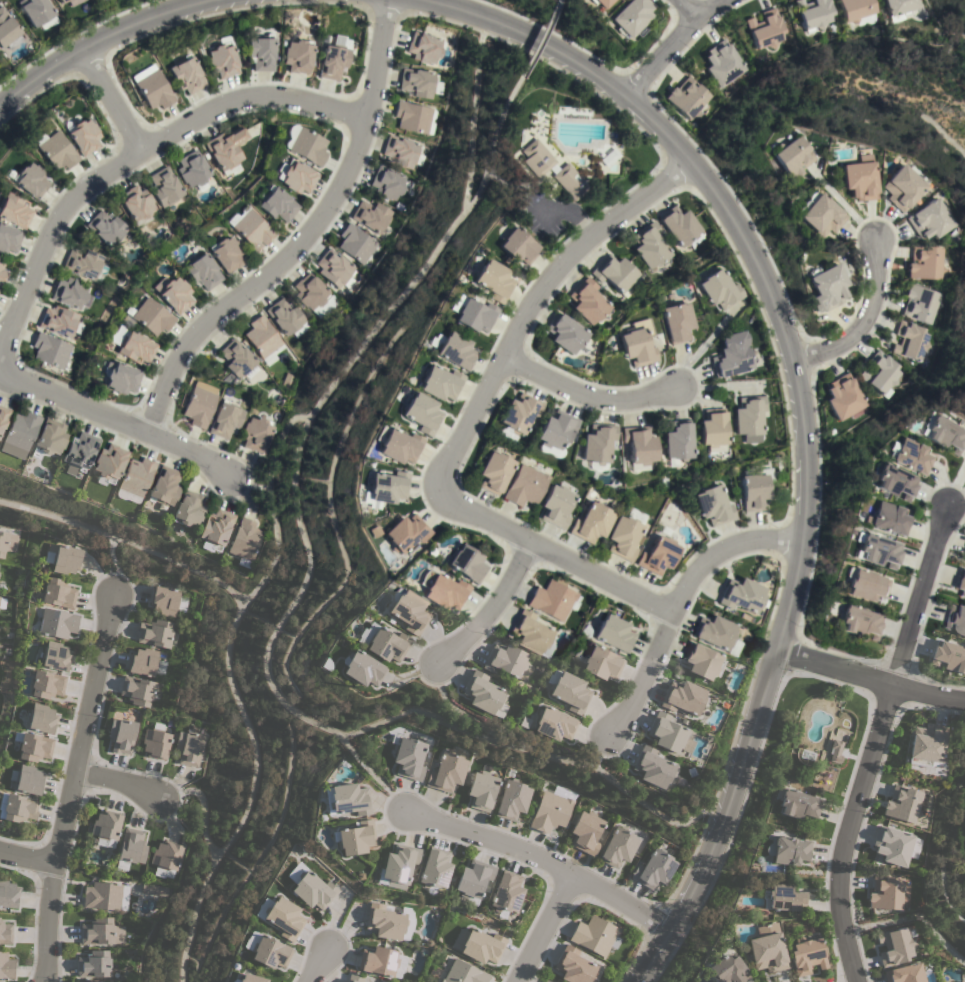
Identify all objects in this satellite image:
road: (557, 0)
building: (60, 1)
building: (599, 2)
building: (899, 8)
road: (686, 9)
building: (854, 9)
building: (34, 11)
building: (813, 14)
building: (631, 17)
building: (6, 28)
building: (764, 30)
road: (540, 35)
road: (96, 40)
road: (675, 40)
building: (423, 48)
building: (260, 52)
building: (297, 56)
building: (221, 60)
building: (332, 62)
building: (721, 63)
building: (185, 74)
building: (419, 83)
building: (151, 88)
road: (108, 98)
building: (686, 98)
building: (413, 117)
building: (83, 137)
building: (307, 146)
building: (54, 150)
building: (226, 150)
road: (132, 151)
building: (401, 151)
building: (790, 157)
building: (192, 169)
building: (552, 169)
building: (296, 177)
building: (859, 178)
building: (30, 180)
building: (386, 183)
building: (164, 187)
building: (903, 187)
road: (463, 195)
building: (275, 204)
building: (136, 205)
road: (846, 209)
building: (14, 211)
building: (371, 216)
building: (819, 216)
building: (930, 220)
building: (678, 225)
building: (105, 228)
building: (251, 229)
road: (303, 237)
building: (8, 239)
building: (356, 244)
building: (518, 246)
building: (649, 246)
building: (226, 254)
building: (82, 263)
building: (925, 263)
building: (333, 268)
building: (1, 271)
building: (202, 271)
building: (615, 274)
building: (493, 281)
building: (826, 288)
building: (718, 289)
building: (69, 292)
building: (173, 294)
building: (314, 295)
building: (587, 301)
building: (920, 304)
building: (471, 314)
road: (386, 316)
building: (151, 317)
building: (286, 318)
building: (58, 321)
building: (676, 322)
road: (861, 324)
building: (565, 333)
building: (261, 337)
building: (911, 341)
building: (637, 343)
building: (135, 347)
building: (50, 350)
building: (454, 351)
building: (731, 355)
building: (237, 362)
building: (881, 373)
building: (121, 379)
building: (439, 383)
building: (843, 396)
road: (595, 397)
building: (199, 404)
building: (420, 413)
building: (519, 413)
road: (805, 415)
building: (749, 416)
building: (3, 417)
road: (116, 419)
building: (225, 419)
road: (473, 420)
building: (713, 428)
building: (557, 430)
building: (20, 433)
building: (255, 434)
building: (507, 434)
building: (946, 434)
building: (49, 438)
building: (678, 440)
building: (598, 443)
building: (397, 445)
building: (639, 445)
building: (80, 451)
building: (909, 455)
building: (109, 462)
building: (494, 472)
building: (136, 476)
building: (893, 481)
road: (251, 483)
building: (163, 486)
building: (525, 486)
building: (385, 489)
building: (752, 491)
road: (270, 504)
building: (556, 505)
building: (712, 506)
building: (188, 509)
building: (888, 519)
building: (591, 523)
building: (216, 528)
building: (406, 533)
building: (623, 538)
building: (245, 539)
road: (125, 542)
building: (7, 543)
building: (876, 550)
building: (658, 555)
building: (63, 558)
building: (964, 558)
building: (466, 563)
road: (114, 564)
building: (961, 582)
building: (866, 585)
building: (442, 590)
building: (57, 592)
building: (741, 595)
building: (164, 600)
building: (551, 600)
building: (180, 604)
road: (674, 604)
road: (488, 609)
building: (409, 612)
building: (955, 619)
building: (56, 622)
building: (860, 622)
building: (714, 632)
building: (155, 633)
building: (532, 634)
building: (613, 634)
building: (384, 642)
building: (949, 655)
building: (55, 656)
building: (505, 659)
building: (143, 661)
building: (701, 661)
building: (601, 663)
building: (363, 668)
road: (868, 680)
building: (46, 684)
building: (137, 690)
building: (570, 692)
building: (484, 694)
building: (683, 697)
road: (457, 710)
building: (41, 719)
building: (554, 723)
road: (362, 728)
building: (666, 732)
building: (121, 735)
building: (155, 741)
road: (873, 742)
building: (926, 743)
building: (34, 746)
building: (188, 747)
building: (835, 751)
road: (599, 753)
building: (409, 757)
building: (652, 767)
building: (447, 772)
road: (373, 776)
building: (28, 780)
road: (119, 785)
road: (70, 786)
building: (481, 790)
road: (250, 795)
building: (349, 799)
building: (512, 799)
building: (903, 803)
building: (798, 804)
building: (17, 807)
road: (200, 809)
building: (550, 811)
building: (106, 826)
building: (964, 828)
building: (586, 831)
building: (356, 837)
building: (892, 844)
building: (132, 846)
building: (618, 847)
building: (788, 850)
road: (25, 858)
building: (165, 858)
road: (545, 860)
building: (399, 865)
building: (434, 868)
building: (654, 868)
building: (473, 878)
building: (154, 889)
building: (313, 889)
building: (506, 892)
building: (886, 892)
building: (8, 894)
building: (105, 896)
building: (783, 897)
building: (284, 917)
road: (913, 917)
building: (389, 921)
road: (542, 927)
building: (101, 931)
building: (5, 932)
building: (595, 935)
building: (478, 944)
building: (894, 946)
building: (270, 952)
building: (767, 952)
building: (807, 955)
building: (378, 960)
building: (94, 964)
building: (6, 965)
building: (573, 965)
road: (315, 968)
building: (728, 970)
building: (464, 973)
building: (904, 973)
building: (251, 978)
building: (354, 978)
building: (546, 980)
building: (98, 981)
building: (962, 981)

